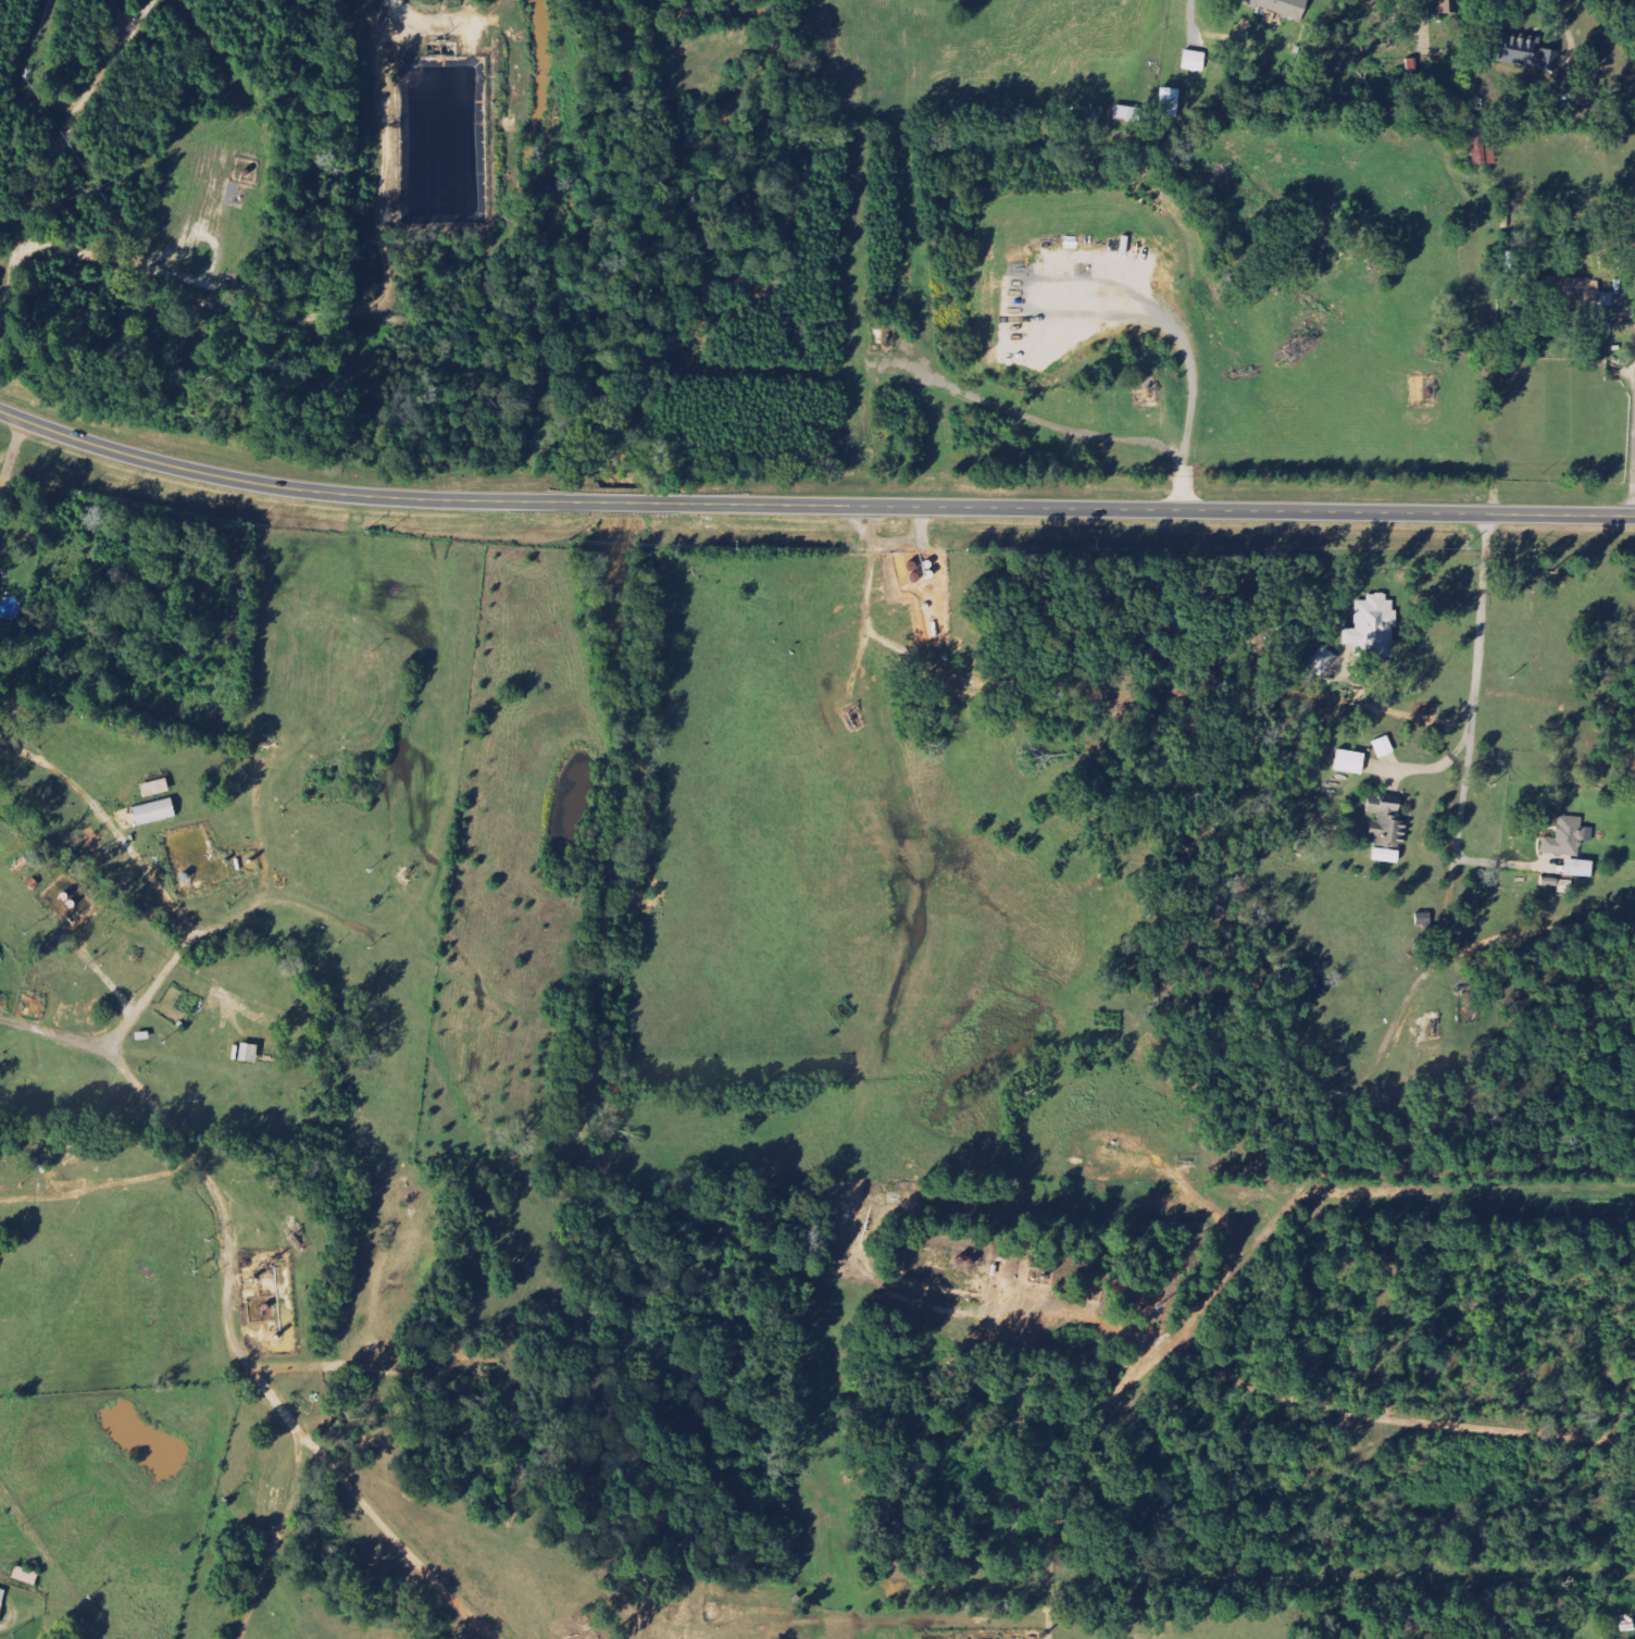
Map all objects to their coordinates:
building: (1445, 5)
building: (1284, 8)
road: (1563, 25)
building: (1531, 53)
building: (1171, 103)
building: (1128, 114)
building: (1585, 294)
road: (1634, 320)
road: (319, 491)
road: (1634, 505)
road: (1141, 510)
building: (1374, 629)
building: (1323, 662)
building: (1385, 748)
building: (1351, 763)
building: (155, 814)
building: (1388, 825)
building: (1569, 839)
building: (1580, 870)
building: (26, 1576)

